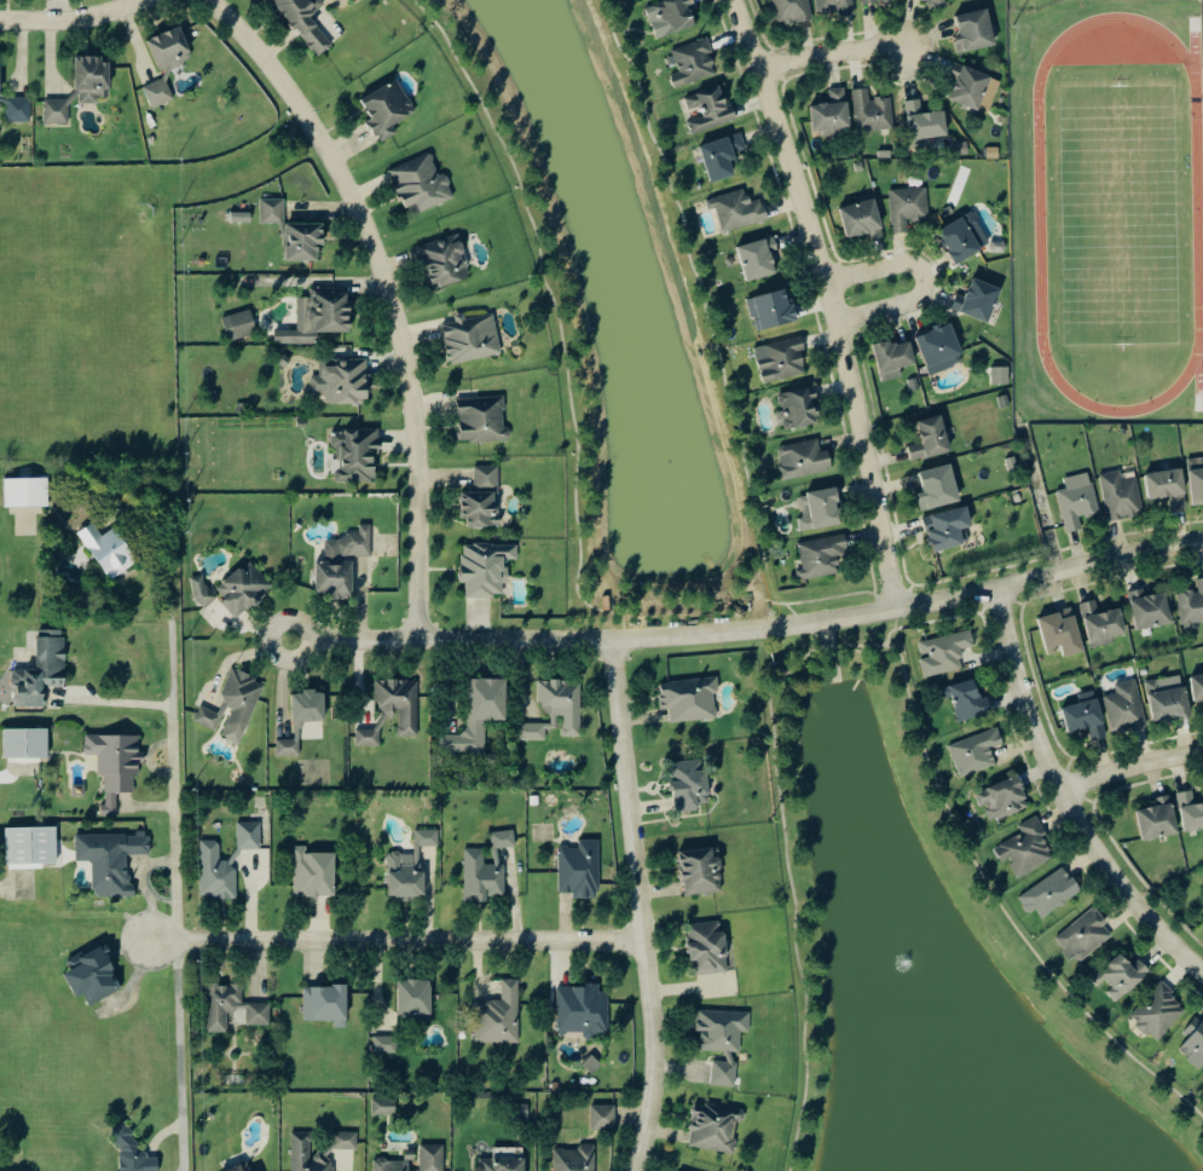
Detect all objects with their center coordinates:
building: (875, 0)
building: (935, 0)
building: (838, 5)
building: (794, 10)
building: (676, 15)
road: (70, 18)
building: (308, 22)
building: (977, 29)
building: (172, 48)
road: (829, 51)
building: (695, 62)
building: (1, 75)
building: (93, 77)
building: (976, 87)
building: (160, 92)
building: (19, 108)
building: (389, 108)
building: (709, 109)
building: (58, 110)
building: (833, 111)
building: (873, 111)
building: (927, 121)
building: (961, 149)
building: (990, 154)
building: (724, 155)
building: (884, 155)
building: (858, 167)
building: (423, 183)
building: (908, 207)
building: (273, 209)
building: (740, 209)
track: (1041, 214)
building: (860, 220)
building: (966, 237)
building: (306, 240)
building: (762, 258)
building: (446, 261)
road: (924, 277)
road: (387, 294)
road: (831, 299)
building: (981, 299)
building: (774, 308)
building: (325, 313)
building: (242, 324)
building: (473, 338)
building: (942, 347)
building: (896, 357)
building: (782, 359)
building: (999, 376)
building: (345, 381)
building: (913, 385)
building: (1001, 402)
building: (799, 408)
building: (484, 419)
building: (933, 438)
building: (358, 454)
building: (805, 458)
fountain: (669, 462)
building: (1197, 479)
building: (1170, 486)
building: (941, 488)
building: (28, 491)
building: (1122, 495)
building: (484, 497)
building: (1080, 500)
building: (822, 509)
building: (949, 527)
building: (111, 550)
building: (825, 554)
building: (343, 563)
building: (488, 567)
road: (362, 583)
building: (245, 588)
building: (203, 590)
road: (822, 599)
road: (654, 604)
building: (1192, 606)
building: (1152, 608)
road: (953, 616)
road: (897, 617)
building: (1104, 623)
road: (624, 624)
road: (809, 628)
road: (751, 629)
building: (1064, 631)
road: (889, 634)
building: (945, 652)
building: (44, 669)
road: (787, 671)
building: (1198, 687)
building: (692, 698)
building: (967, 698)
building: (1170, 698)
building: (242, 703)
building: (563, 703)
road: (116, 704)
building: (1128, 705)
building: (311, 706)
building: (395, 709)
building: (481, 714)
building: (210, 717)
building: (1088, 717)
building: (534, 731)
building: (28, 743)
building: (289, 748)
building: (978, 751)
building: (117, 765)
road: (1130, 766)
building: (692, 785)
road: (1065, 796)
building: (1006, 798)
building: (1192, 811)
building: (1161, 819)
building: (250, 835)
building: (504, 840)
building: (34, 846)
building: (1029, 848)
building: (112, 860)
road: (976, 864)
building: (412, 866)
building: (582, 869)
building: (702, 871)
building: (218, 872)
building: (316, 872)
building: (485, 875)
road: (173, 886)
building: (1048, 894)
road: (640, 905)
road: (794, 922)
building: (1086, 935)
road: (395, 940)
building: (710, 948)
fountain: (903, 959)
building: (96, 975)
building: (1123, 976)
building: (417, 997)
building: (328, 1004)
building: (235, 1009)
building: (584, 1010)
building: (1161, 1011)
building: (502, 1016)
building: (724, 1040)
building: (1195, 1043)
building: (387, 1044)
building: (386, 1106)
building: (605, 1117)
building: (716, 1127)
building: (134, 1152)
building: (310, 1155)
building: (433, 1158)
building: (577, 1159)
building: (504, 1164)
building: (394, 1165)
building: (244, 1169)
building: (261, 1170)

